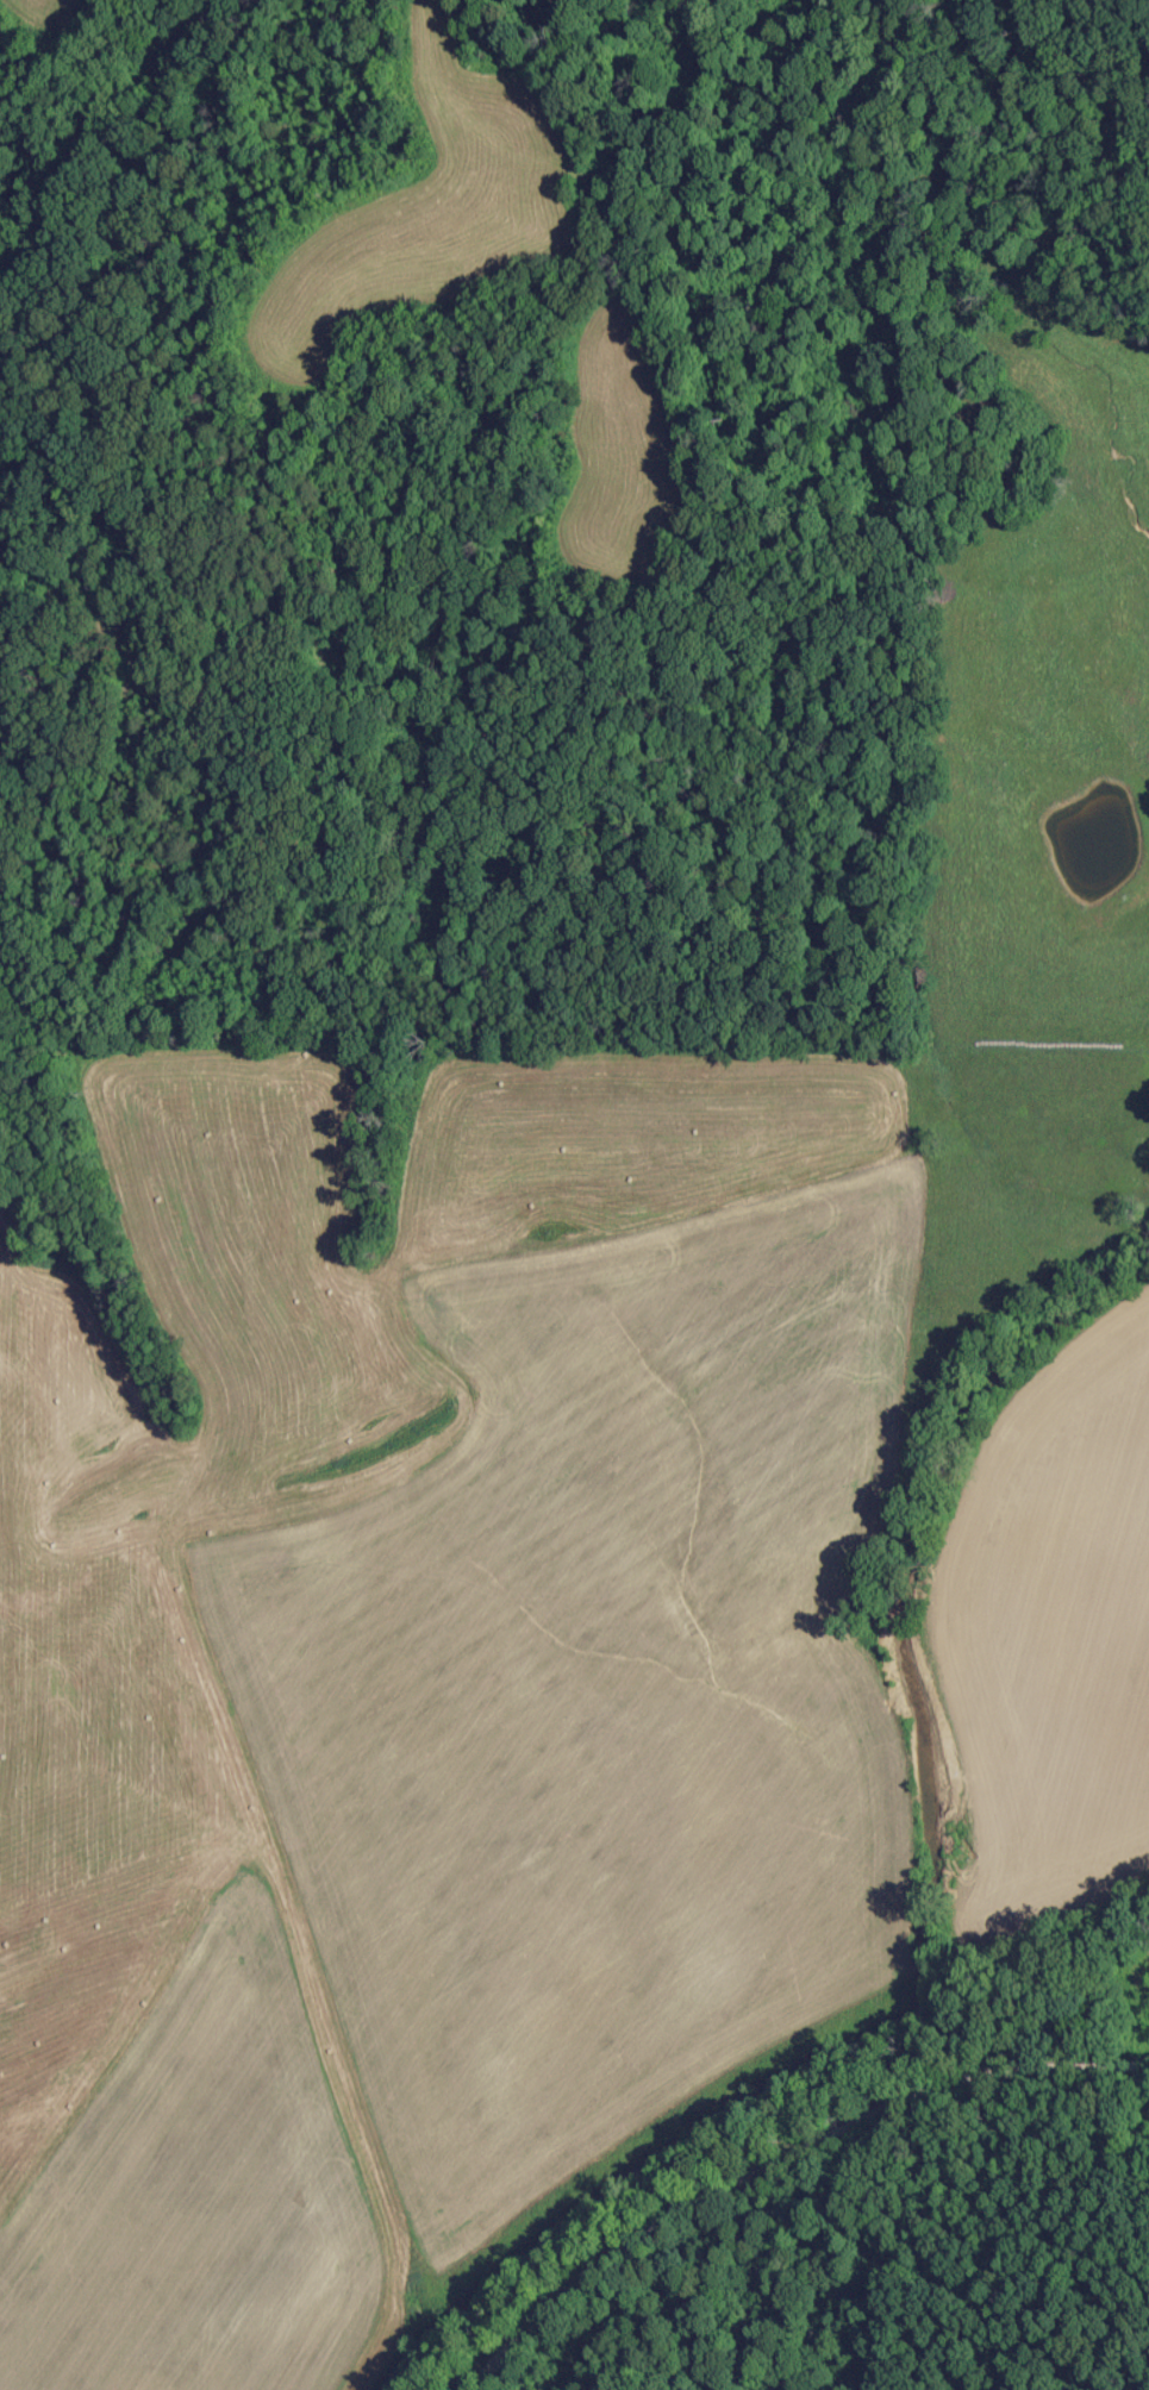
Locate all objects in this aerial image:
road: (780, 2163)

